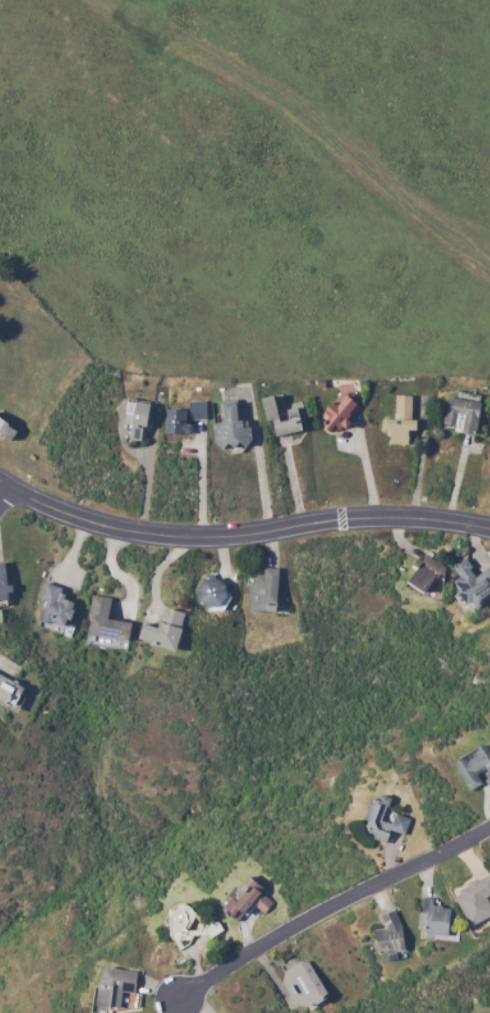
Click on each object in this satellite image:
road: (297, 123)
building: (342, 414)
building: (465, 415)
building: (184, 417)
building: (284, 418)
building: (138, 419)
building: (402, 421)
building: (233, 426)
building: (6, 432)
road: (4, 497)
road: (240, 536)
building: (475, 582)
building: (3, 586)
building: (210, 595)
building: (262, 595)
building: (53, 609)
building: (0, 623)
building: (105, 623)
building: (163, 633)
building: (8, 691)
building: (475, 768)
building: (247, 898)
building: (474, 901)
road: (329, 908)
building: (433, 918)
building: (390, 938)

